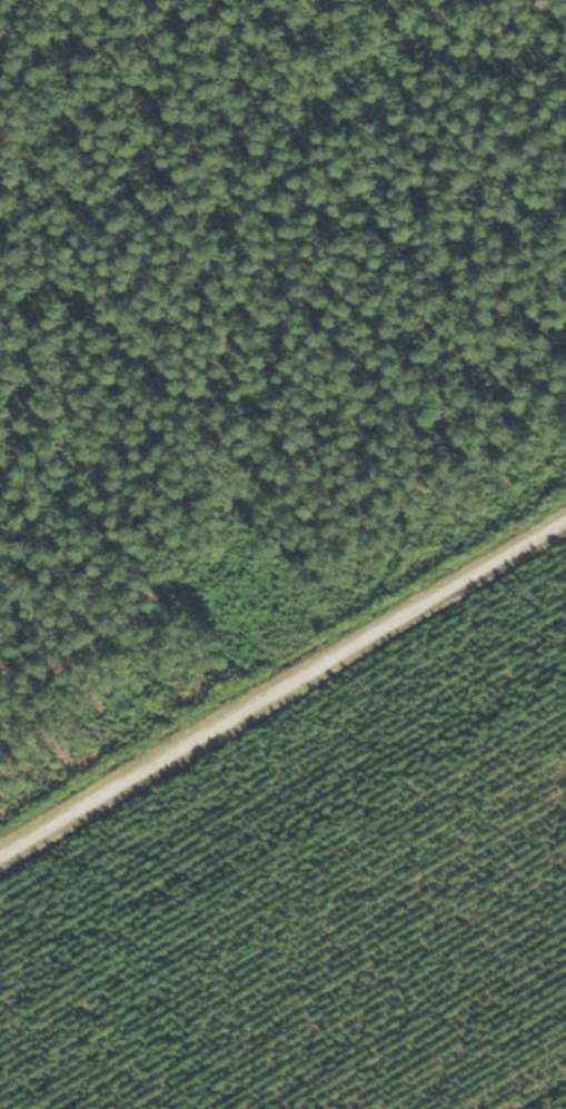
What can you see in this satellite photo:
road: (282, 691)

